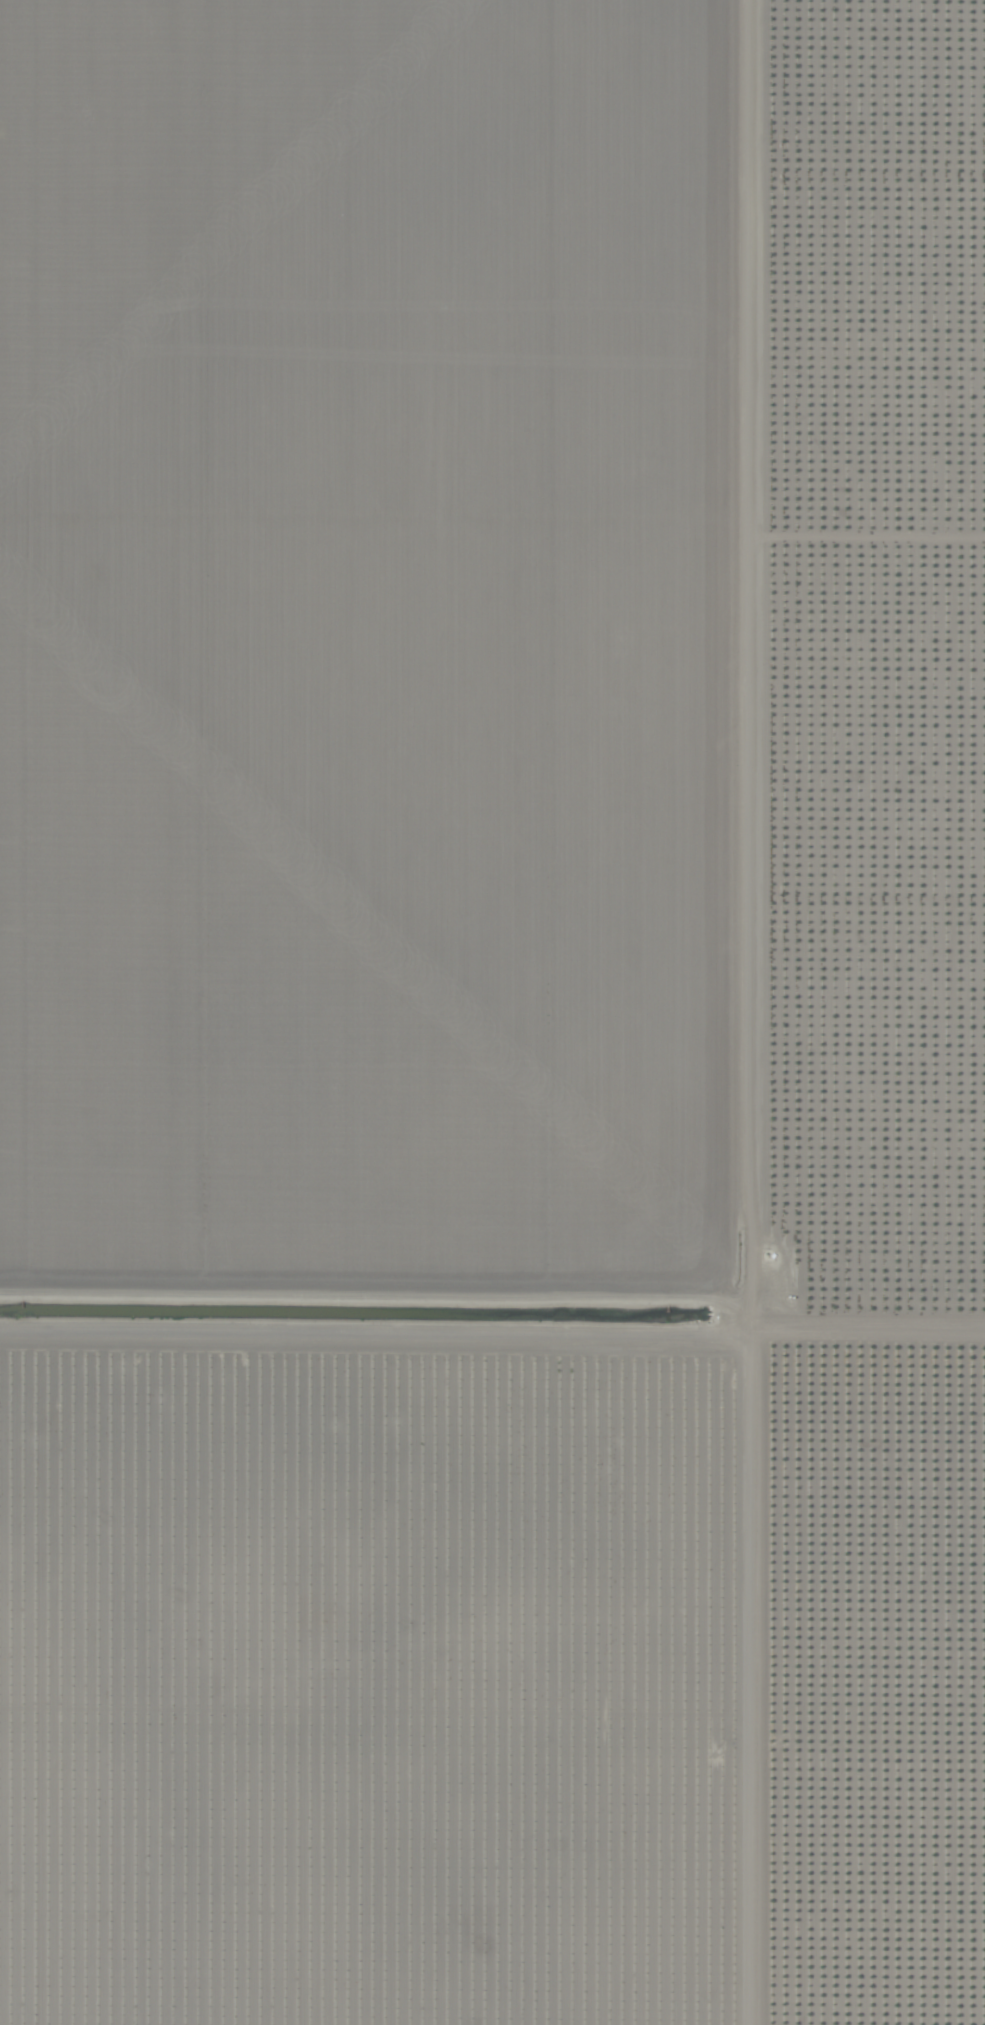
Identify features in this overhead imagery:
crop: (492, 1012)
road: (765, 1012)
road: (492, 1297)

